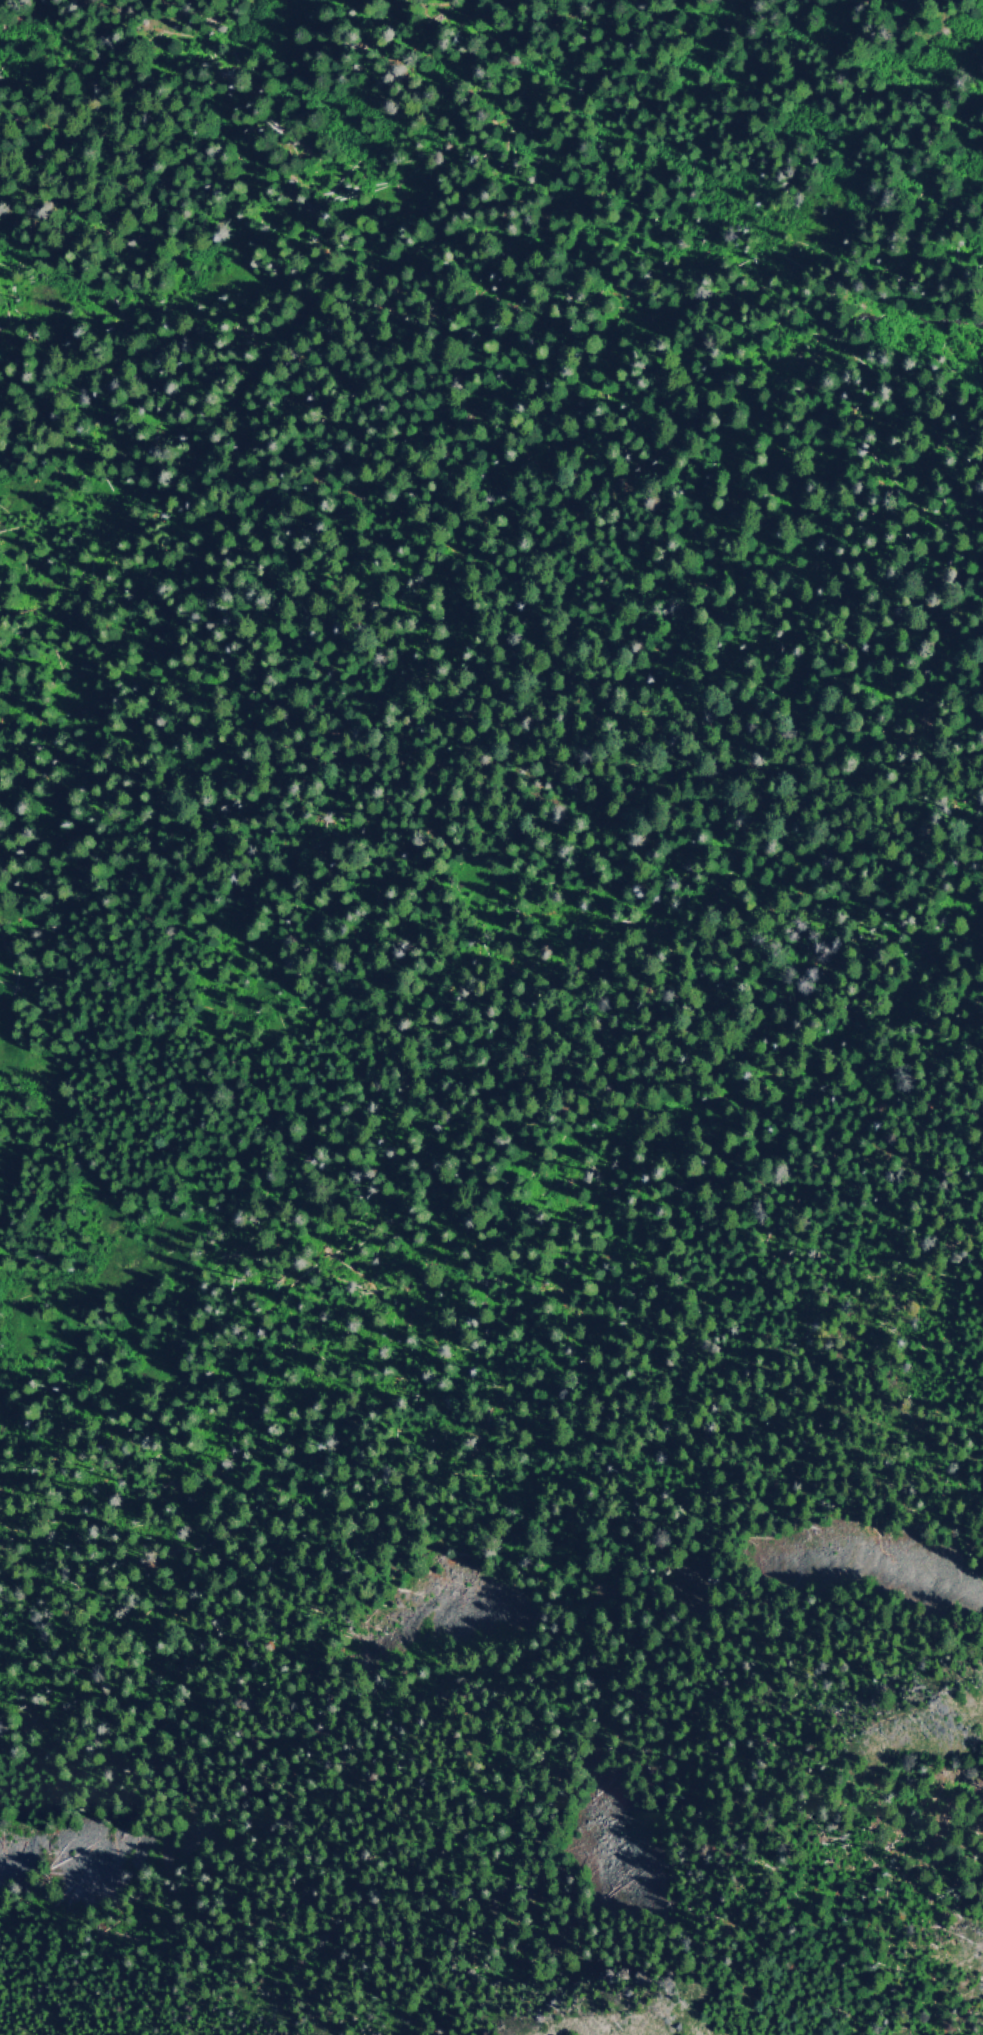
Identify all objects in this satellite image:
road: (412, 1083)

